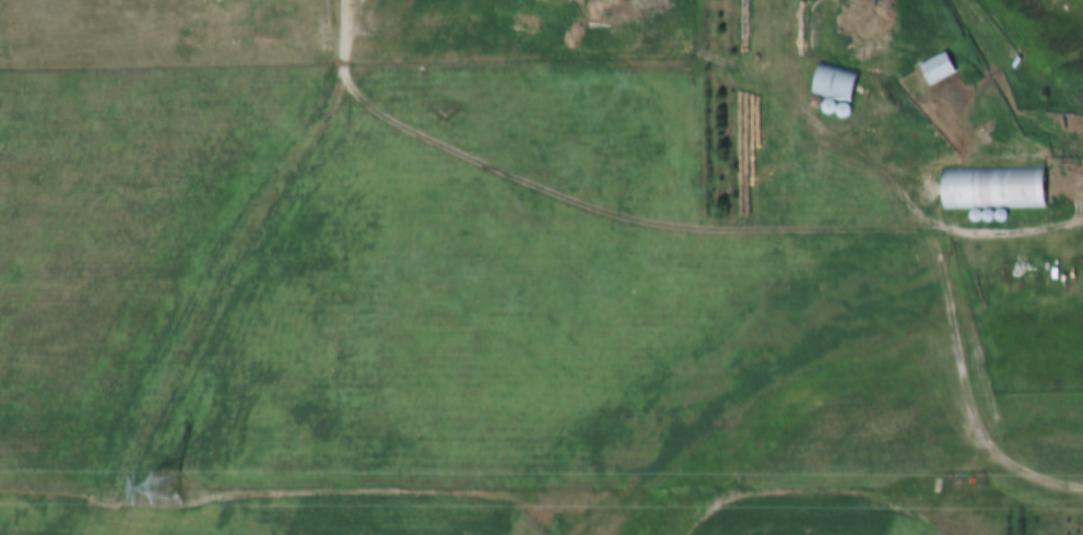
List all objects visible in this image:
building: (940, 69)
building: (837, 83)
building: (1015, 188)
building: (695, 200)
road: (228, 265)
power tower: (169, 488)

